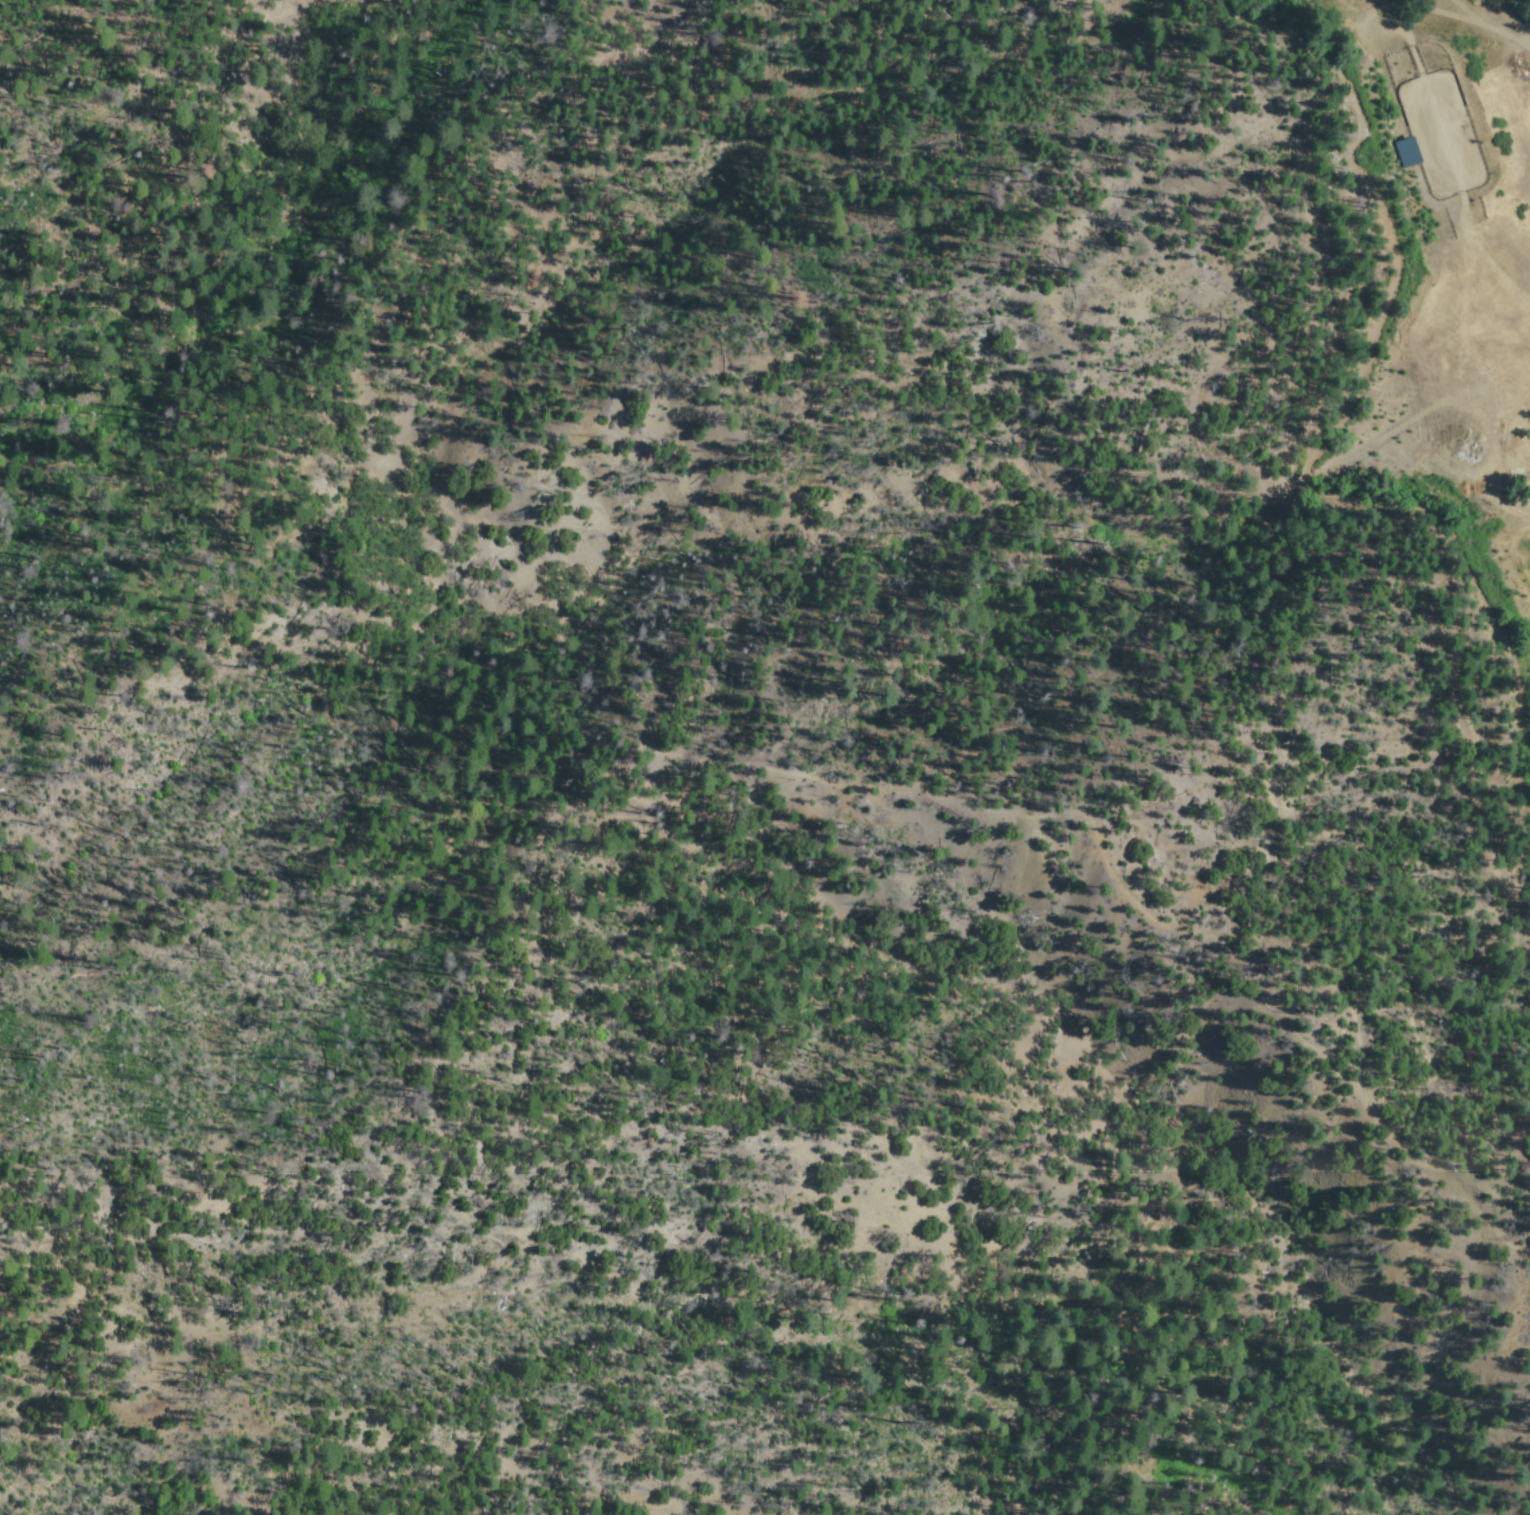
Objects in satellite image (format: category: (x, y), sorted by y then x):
road: (1482, 38)
building: (1406, 151)

